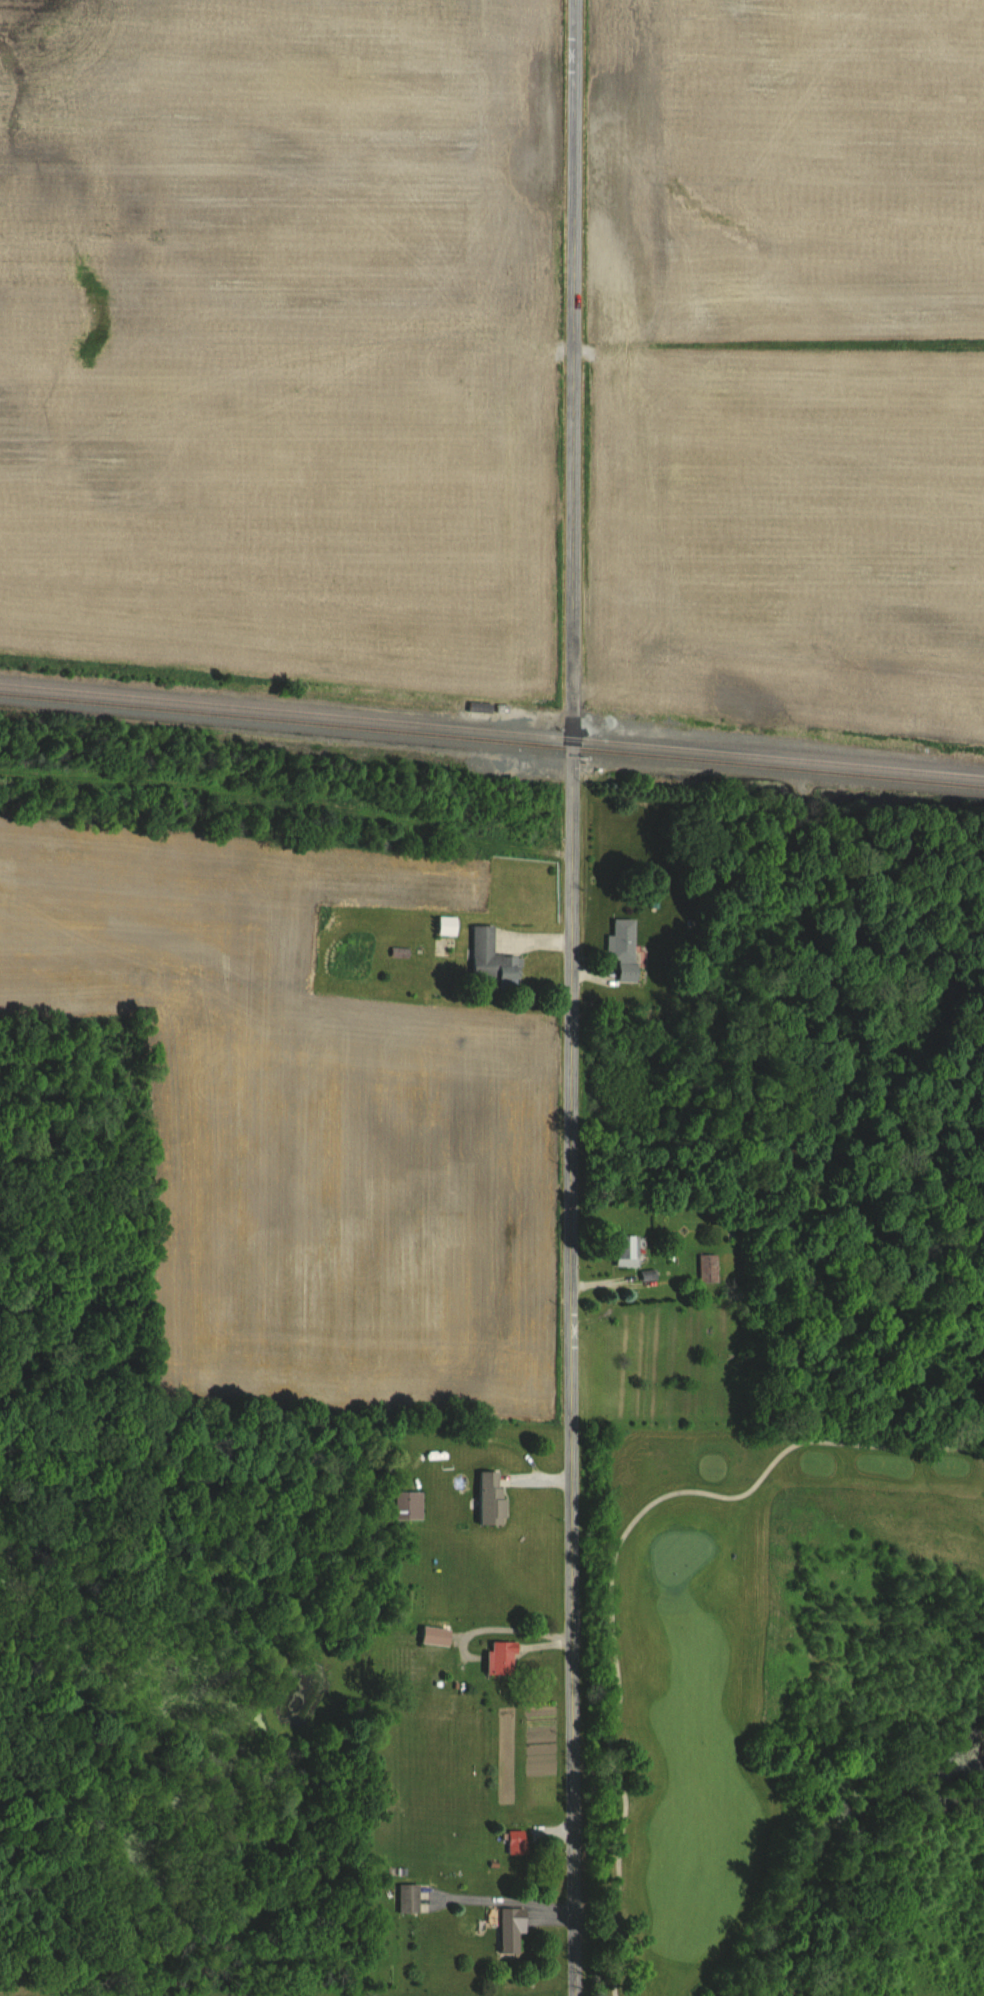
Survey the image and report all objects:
building: (476, 705)
railway: (492, 728)
railway: (492, 738)
building: (443, 924)
building: (620, 950)
building: (346, 952)
building: (487, 956)
road: (569, 998)
building: (620, 1250)
building: (705, 1267)
building: (487, 1497)
building: (405, 1505)
road: (610, 1565)
building: (432, 1635)
building: (497, 1657)
building: (513, 1841)
building: (405, 1898)
building: (507, 1928)

